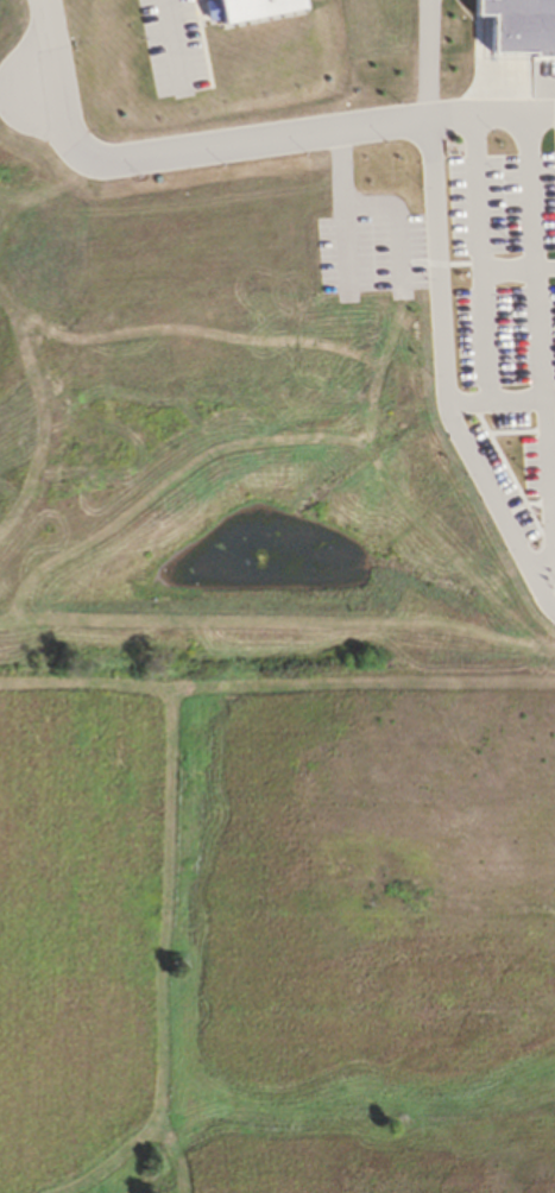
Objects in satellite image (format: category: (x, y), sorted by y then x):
road: (46, 42)
road: (172, 42)
road: (427, 58)
road: (491, 112)
road: (215, 145)
road: (342, 210)
road: (395, 227)
road: (481, 257)
road: (510, 270)
road: (542, 352)
road: (439, 378)
road: (493, 400)

